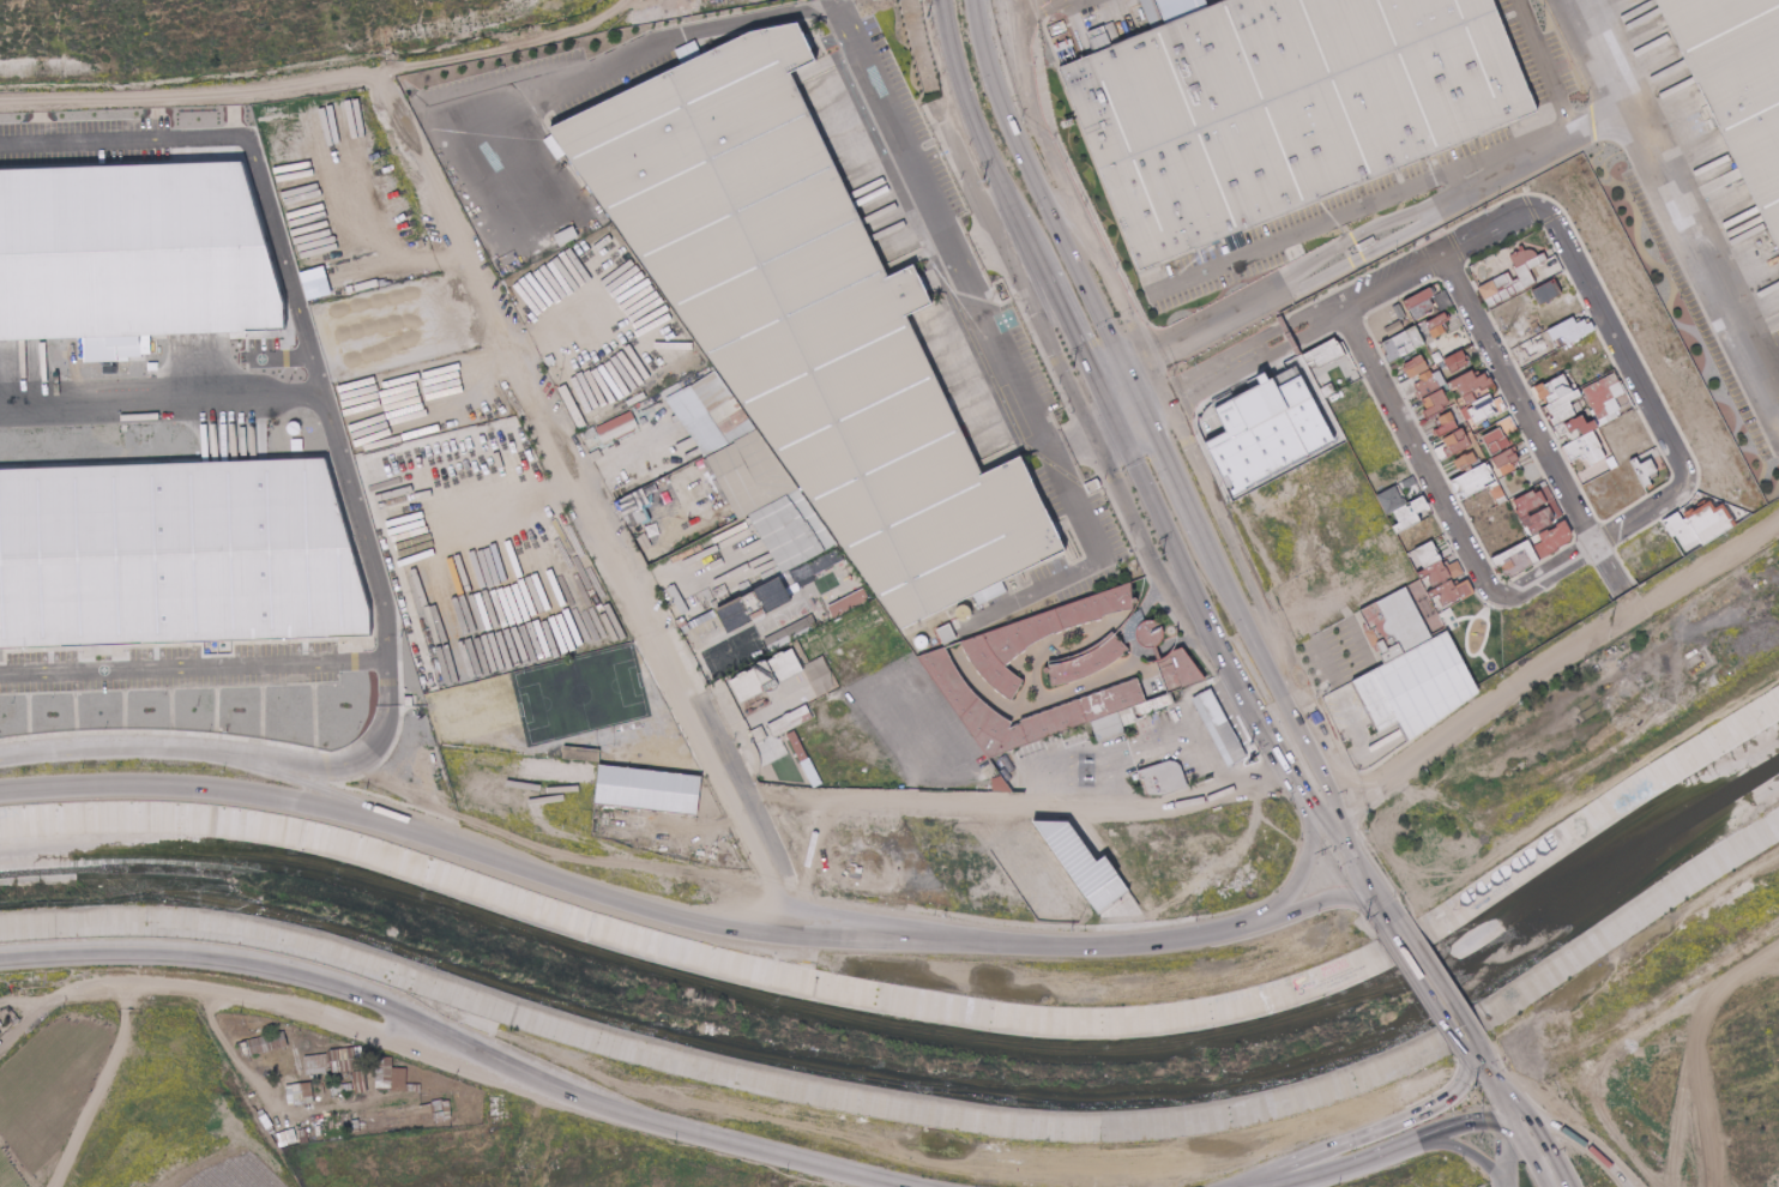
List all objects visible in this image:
power tower: (927, 16)
power tower: (983, 177)
power tower: (1077, 367)
power tower: (1165, 556)
power tower: (1252, 734)
power tower: (1365, 916)
power tower: (1475, 1084)
crop: (50, 1096)
crop: (236, 1174)

